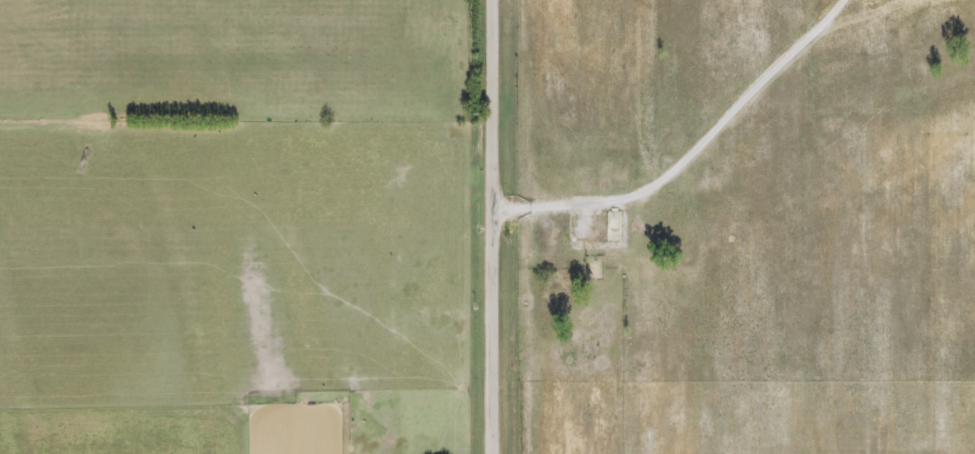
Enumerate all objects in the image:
airport: (746, 226)
road: (496, 227)

